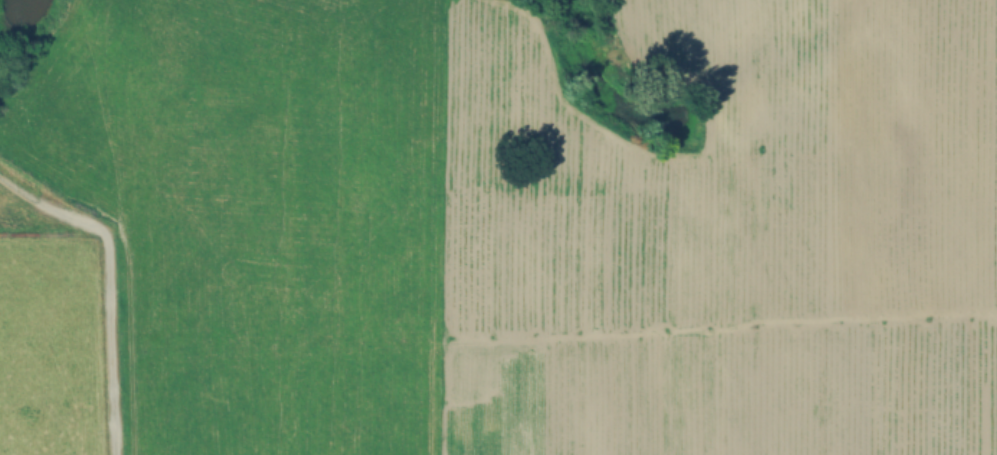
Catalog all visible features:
crop: (498, 227)

